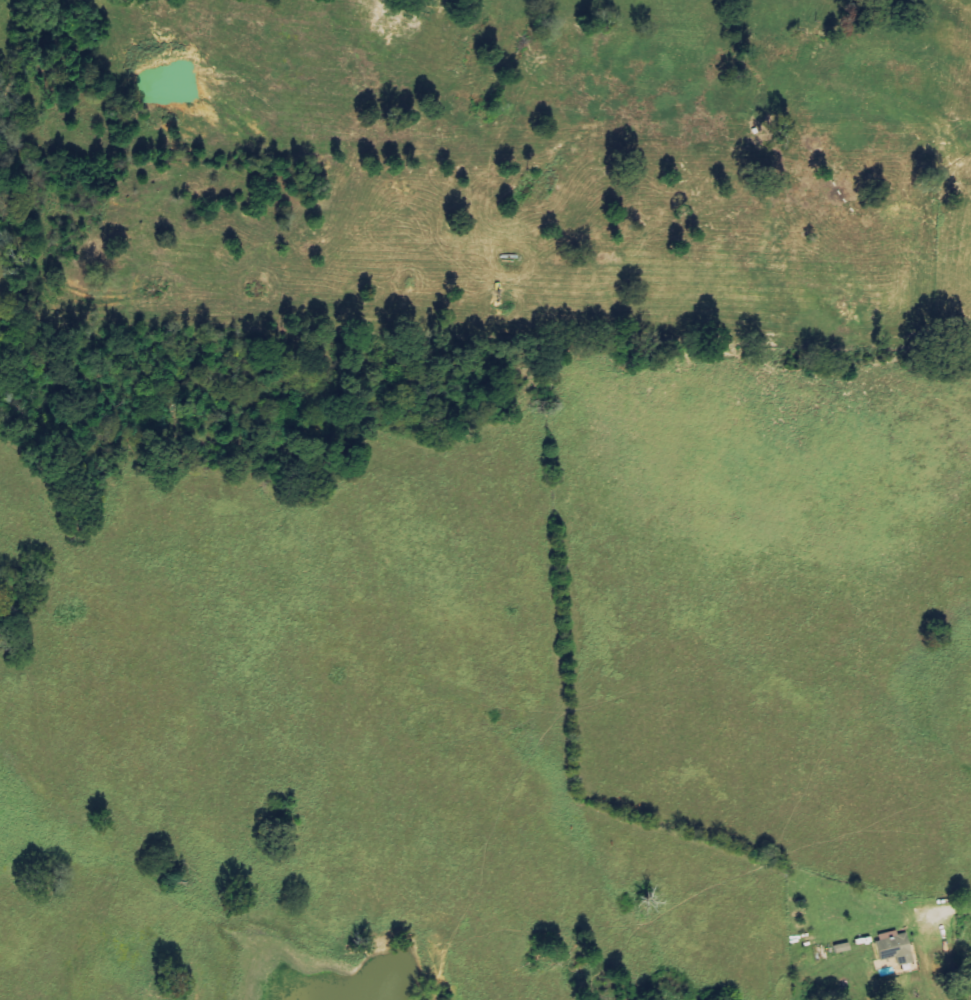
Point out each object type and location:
building: (893, 947)
building: (840, 948)

